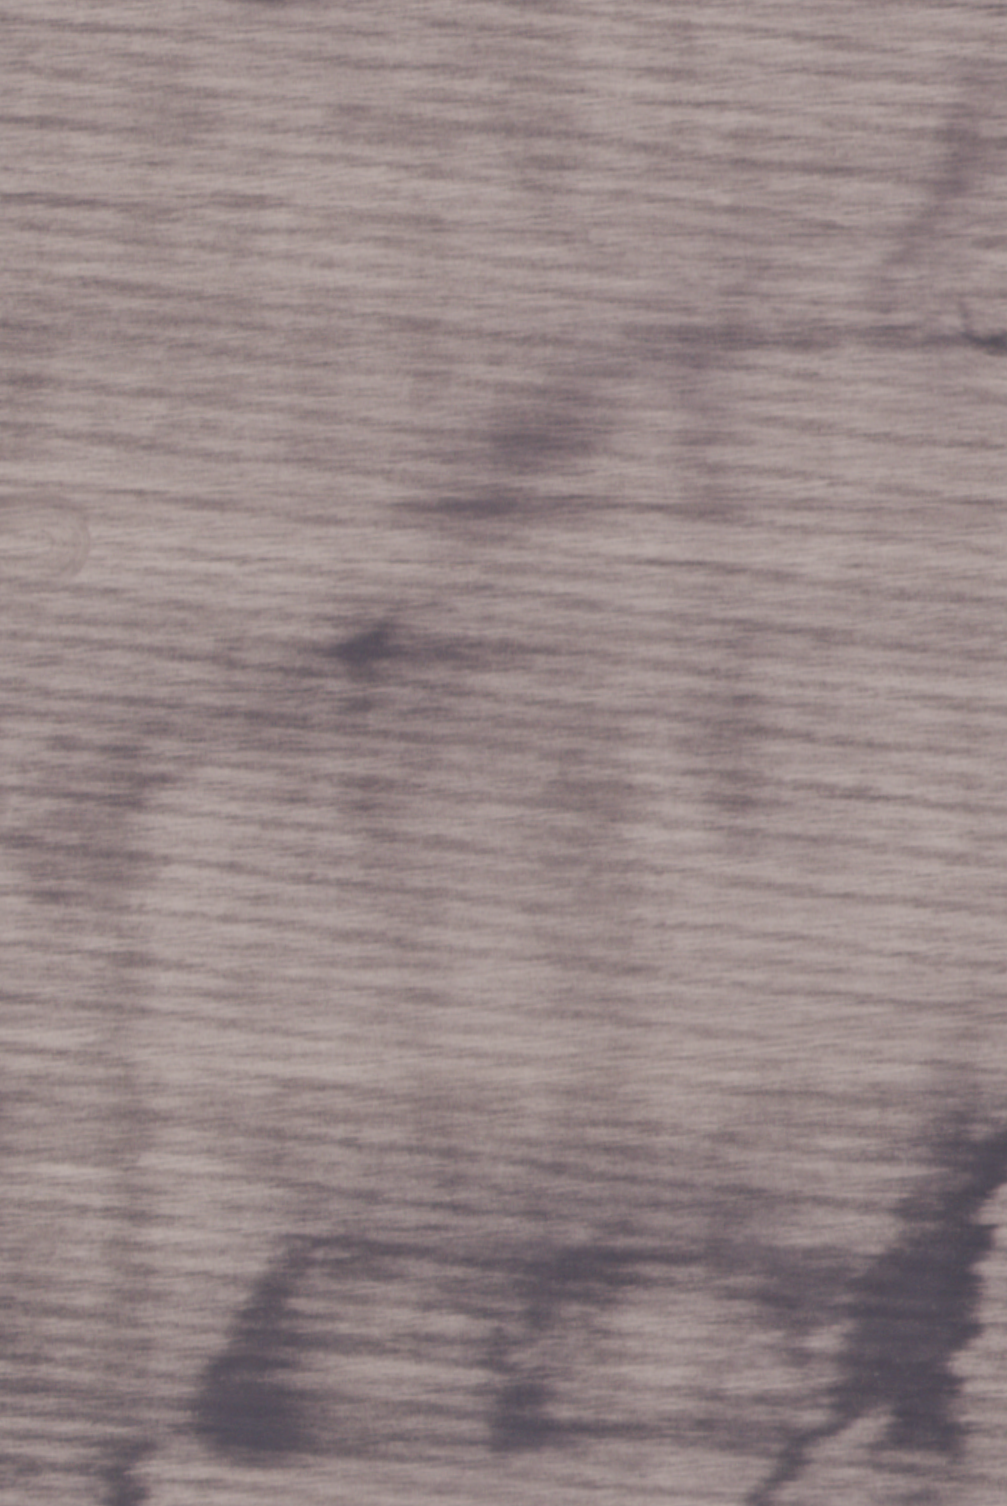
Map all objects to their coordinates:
crop: (503, 753)

